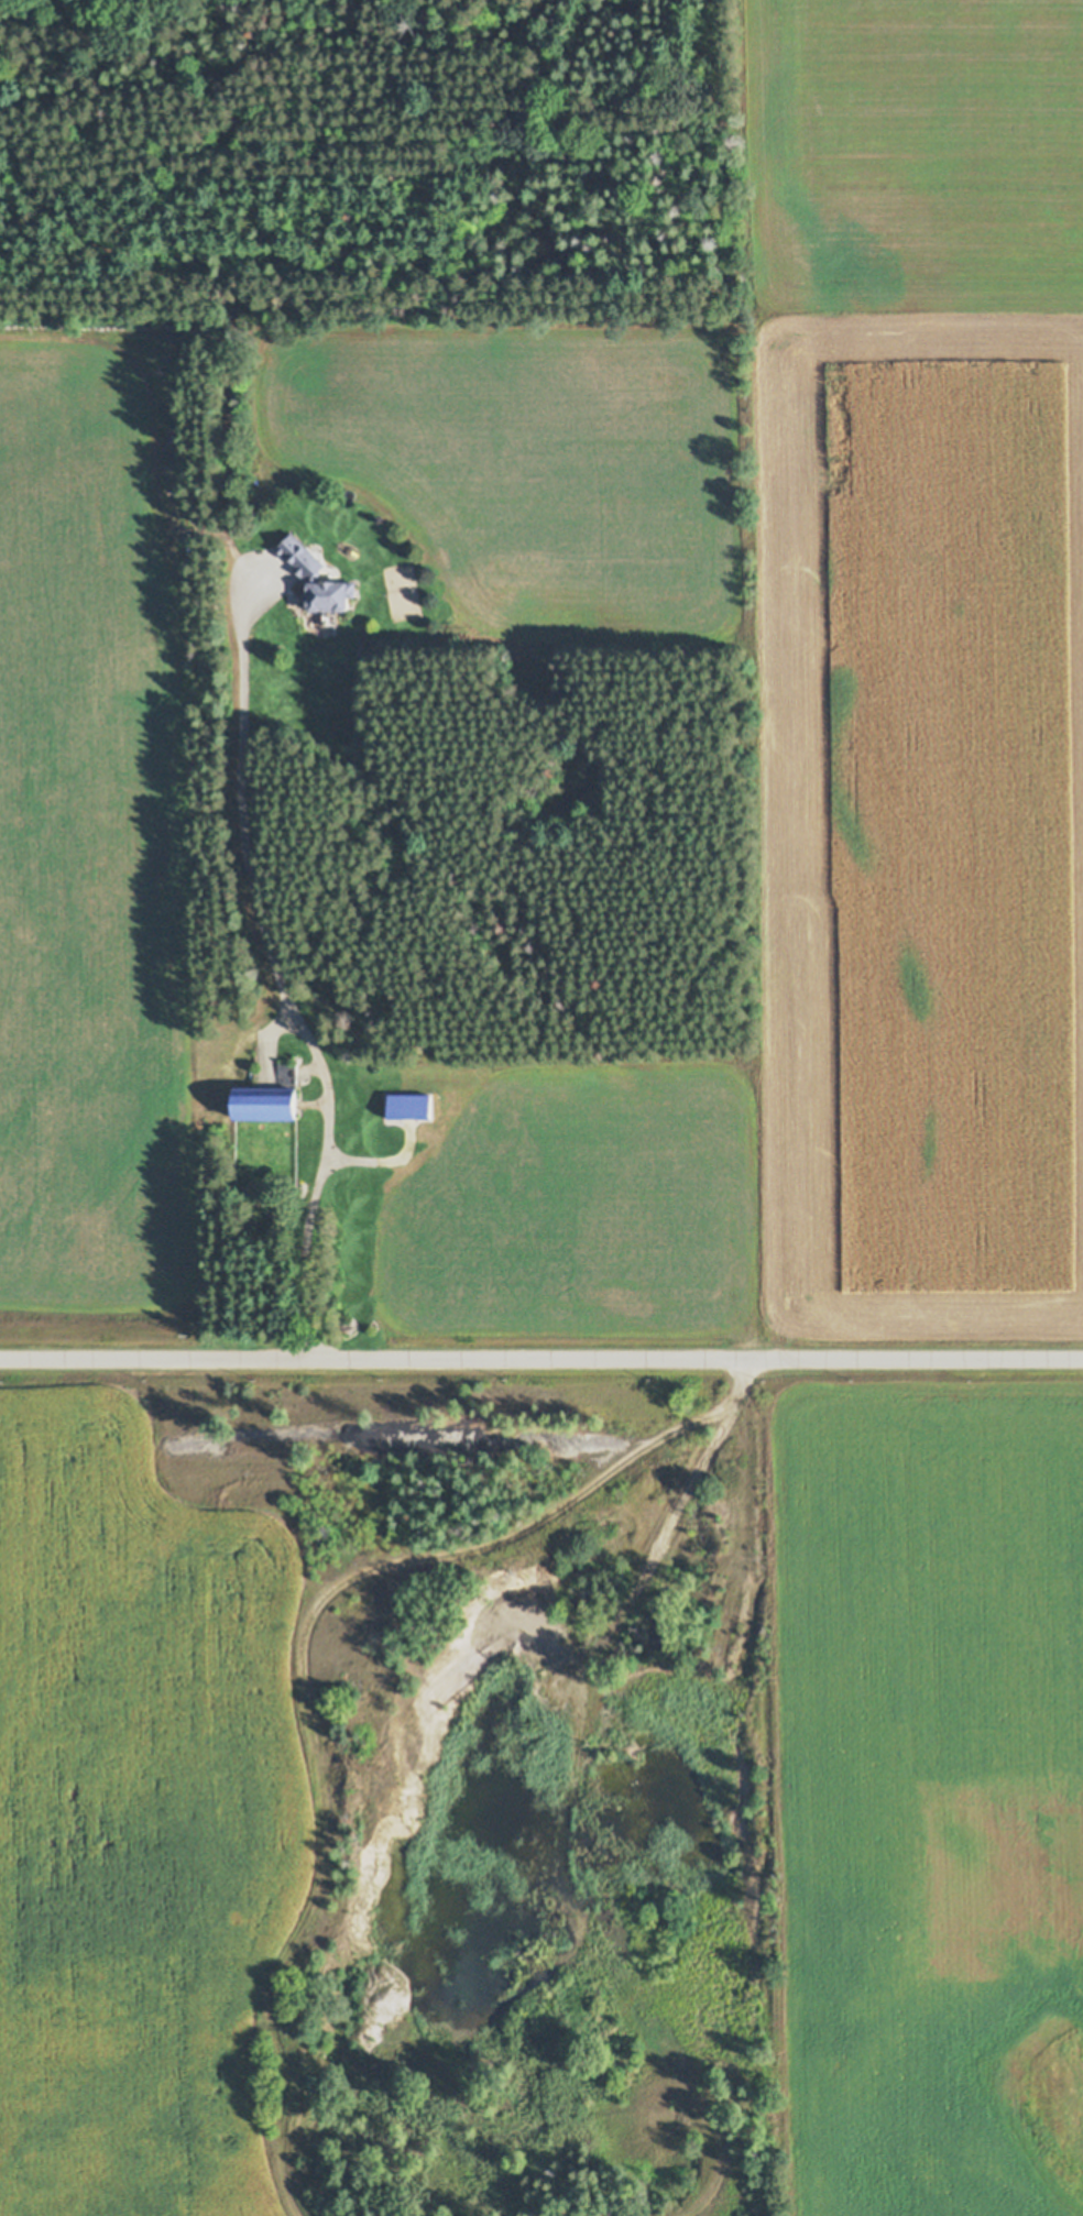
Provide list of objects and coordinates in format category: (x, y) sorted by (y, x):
building: (317, 578)
road: (281, 983)
building: (289, 1068)
building: (271, 1102)
building: (412, 1104)
road: (540, 1357)
road: (744, 1378)
road: (304, 1681)
quarry: (528, 1793)
road: (566, 1817)

